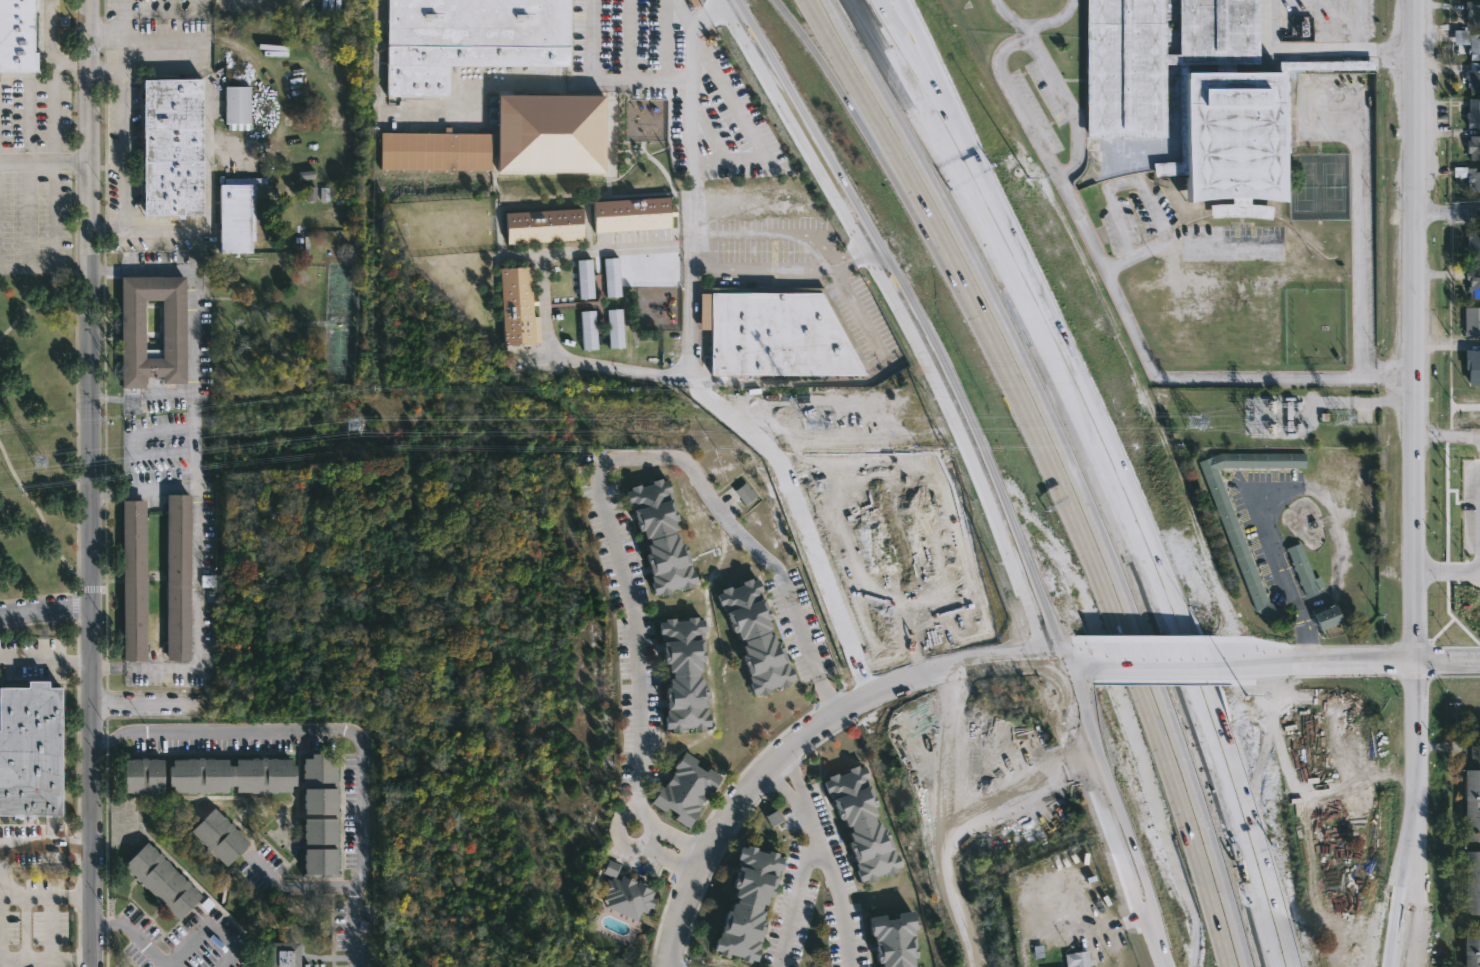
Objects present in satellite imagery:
road: (685, 13)
building: (1473, 13)
road: (157, 15)
road: (121, 20)
road: (1361, 23)
road: (116, 24)
road: (883, 26)
road: (919, 32)
building: (15, 35)
building: (468, 39)
road: (629, 41)
road: (151, 46)
road: (1390, 46)
building: (1473, 46)
road: (1291, 47)
road: (812, 49)
road: (105, 69)
building: (1473, 77)
road: (665, 79)
road: (1053, 81)
road: (519, 83)
road: (905, 88)
building: (1198, 97)
building: (235, 106)
road: (689, 108)
building: (1473, 113)
road: (873, 119)
road: (746, 121)
building: (548, 133)
road: (123, 146)
building: (168, 147)
building: (1473, 148)
building: (434, 152)
road: (45, 163)
road: (55, 163)
road: (889, 175)
building: (1473, 179)
road: (1134, 180)
road: (1447, 211)
building: (240, 215)
building: (631, 217)
road: (992, 224)
road: (1010, 230)
road: (112, 231)
road: (159, 232)
road: (770, 234)
building: (1474, 243)
road: (849, 258)
road: (1363, 262)
road: (1121, 265)
road: (748, 267)
road: (192, 278)
building: (1473, 284)
road: (87, 303)
road: (45, 306)
building: (1471, 319)
road: (1130, 321)
building: (129, 324)
road: (1414, 330)
building: (777, 333)
road: (553, 350)
building: (1472, 365)
road: (1390, 374)
road: (157, 395)
road: (103, 397)
road: (1447, 406)
power substation: (1271, 417)
power tower: (1338, 418)
power tower: (823, 419)
power tower: (1194, 419)
power tower: (352, 421)
road: (1092, 428)
park: (42, 431)
road: (1448, 436)
power tower: (40, 459)
road: (615, 461)
road: (978, 468)
road: (195, 479)
building: (745, 495)
road: (103, 497)
road: (44, 498)
building: (1234, 536)
building: (661, 537)
road: (1267, 561)
building: (1302, 571)
road: (1477, 572)
road: (1448, 573)
building: (177, 577)
building: (133, 581)
road: (1108, 596)
road: (43, 612)
building: (1327, 618)
road: (196, 631)
building: (755, 636)
road: (43, 658)
road: (1150, 660)
road: (1071, 661)
road: (1315, 661)
road: (1449, 661)
building: (683, 674)
road: (151, 702)
road: (1208, 707)
road: (1418, 708)
road: (340, 730)
road: (799, 736)
building: (29, 751)
building: (140, 775)
building: (228, 775)
road: (91, 786)
building: (683, 789)
road: (799, 794)
road: (1009, 803)
building: (1472, 806)
building: (319, 817)
road: (1407, 819)
road: (926, 821)
building: (861, 824)
building: (216, 835)
road: (676, 838)
road: (628, 843)
road: (45, 844)
road: (670, 852)
building: (159, 879)
building: (1470, 882)
road: (297, 886)
building: (624, 892)
road: (38, 897)
road: (798, 898)
road: (837, 899)
building: (748, 904)
road: (106, 923)
road: (1117, 924)
road: (1387, 925)
road: (203, 931)
building: (893, 938)
road: (144, 944)
building: (1470, 945)
building: (281, 954)
building: (1076, 958)
road: (27, 959)
road: (166, 966)

